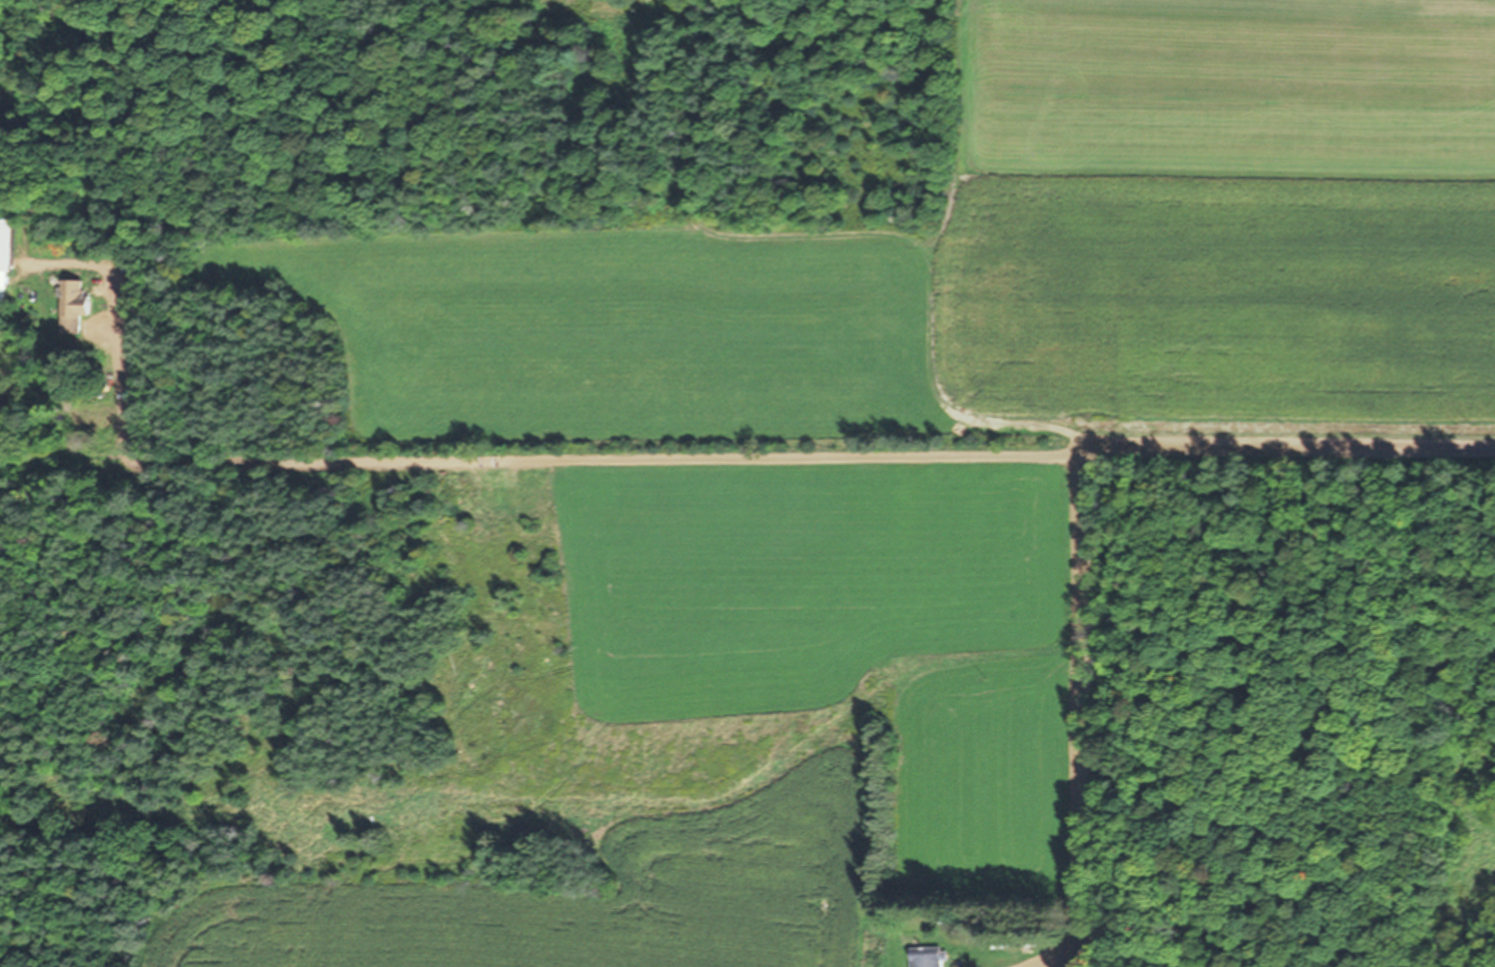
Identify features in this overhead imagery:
building: (6, 258)
building: (75, 306)
road: (1293, 447)
crop: (897, 465)
building: (927, 957)

